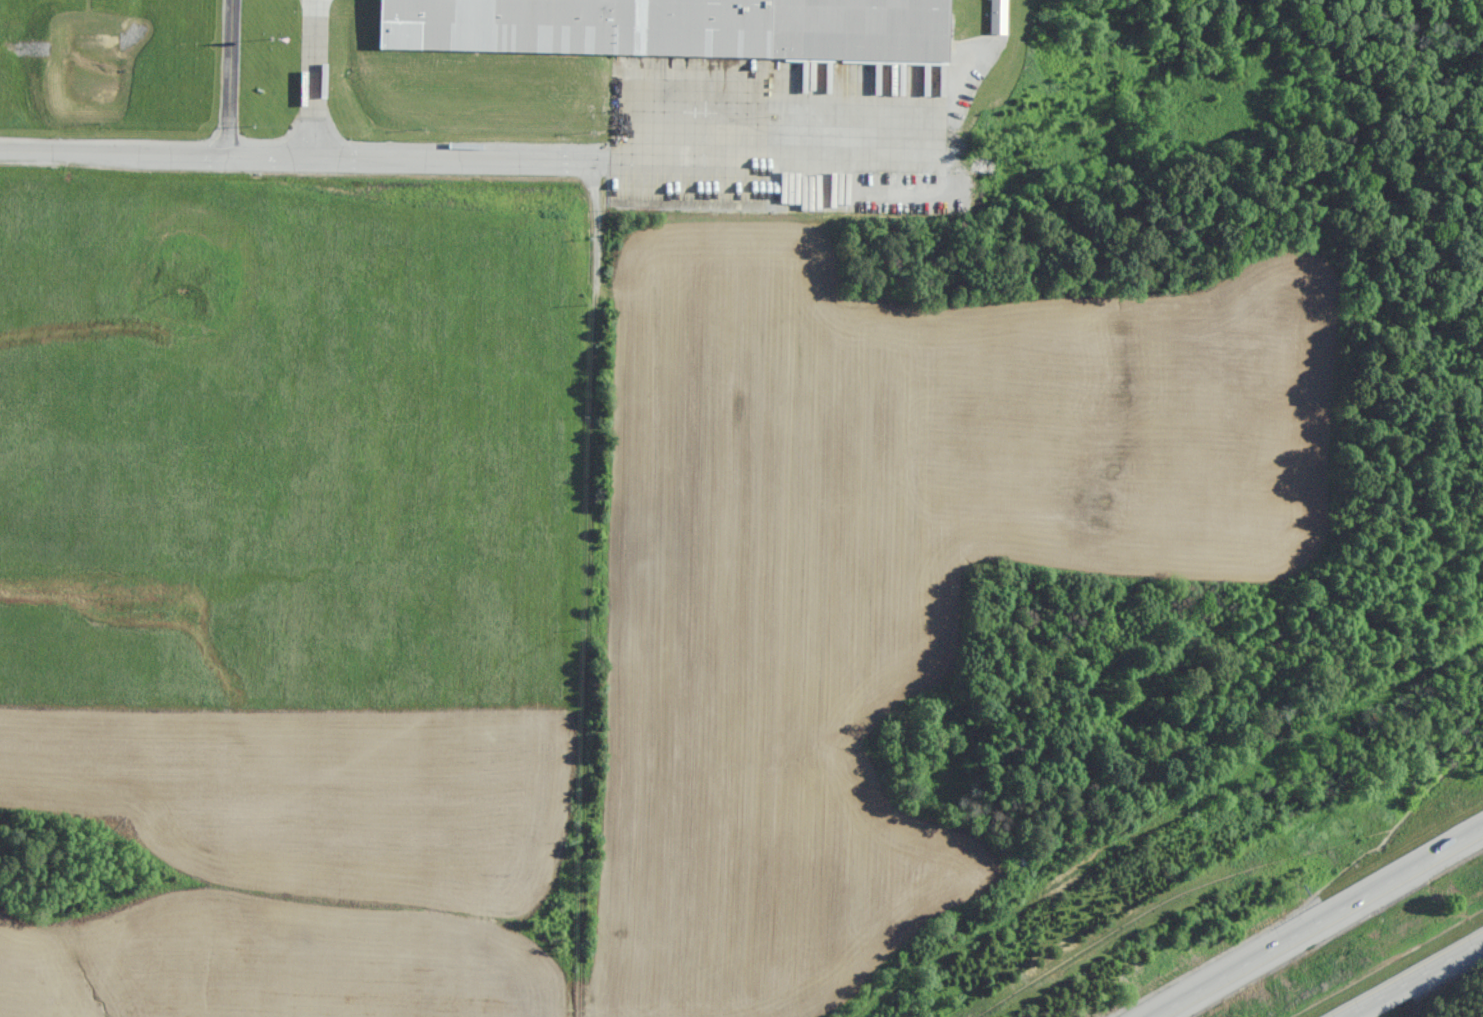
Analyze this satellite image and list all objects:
building: (997, 17)
building: (677, 27)
road: (309, 78)
road: (774, 154)
road: (303, 156)
road: (1322, 927)
road: (1414, 979)

